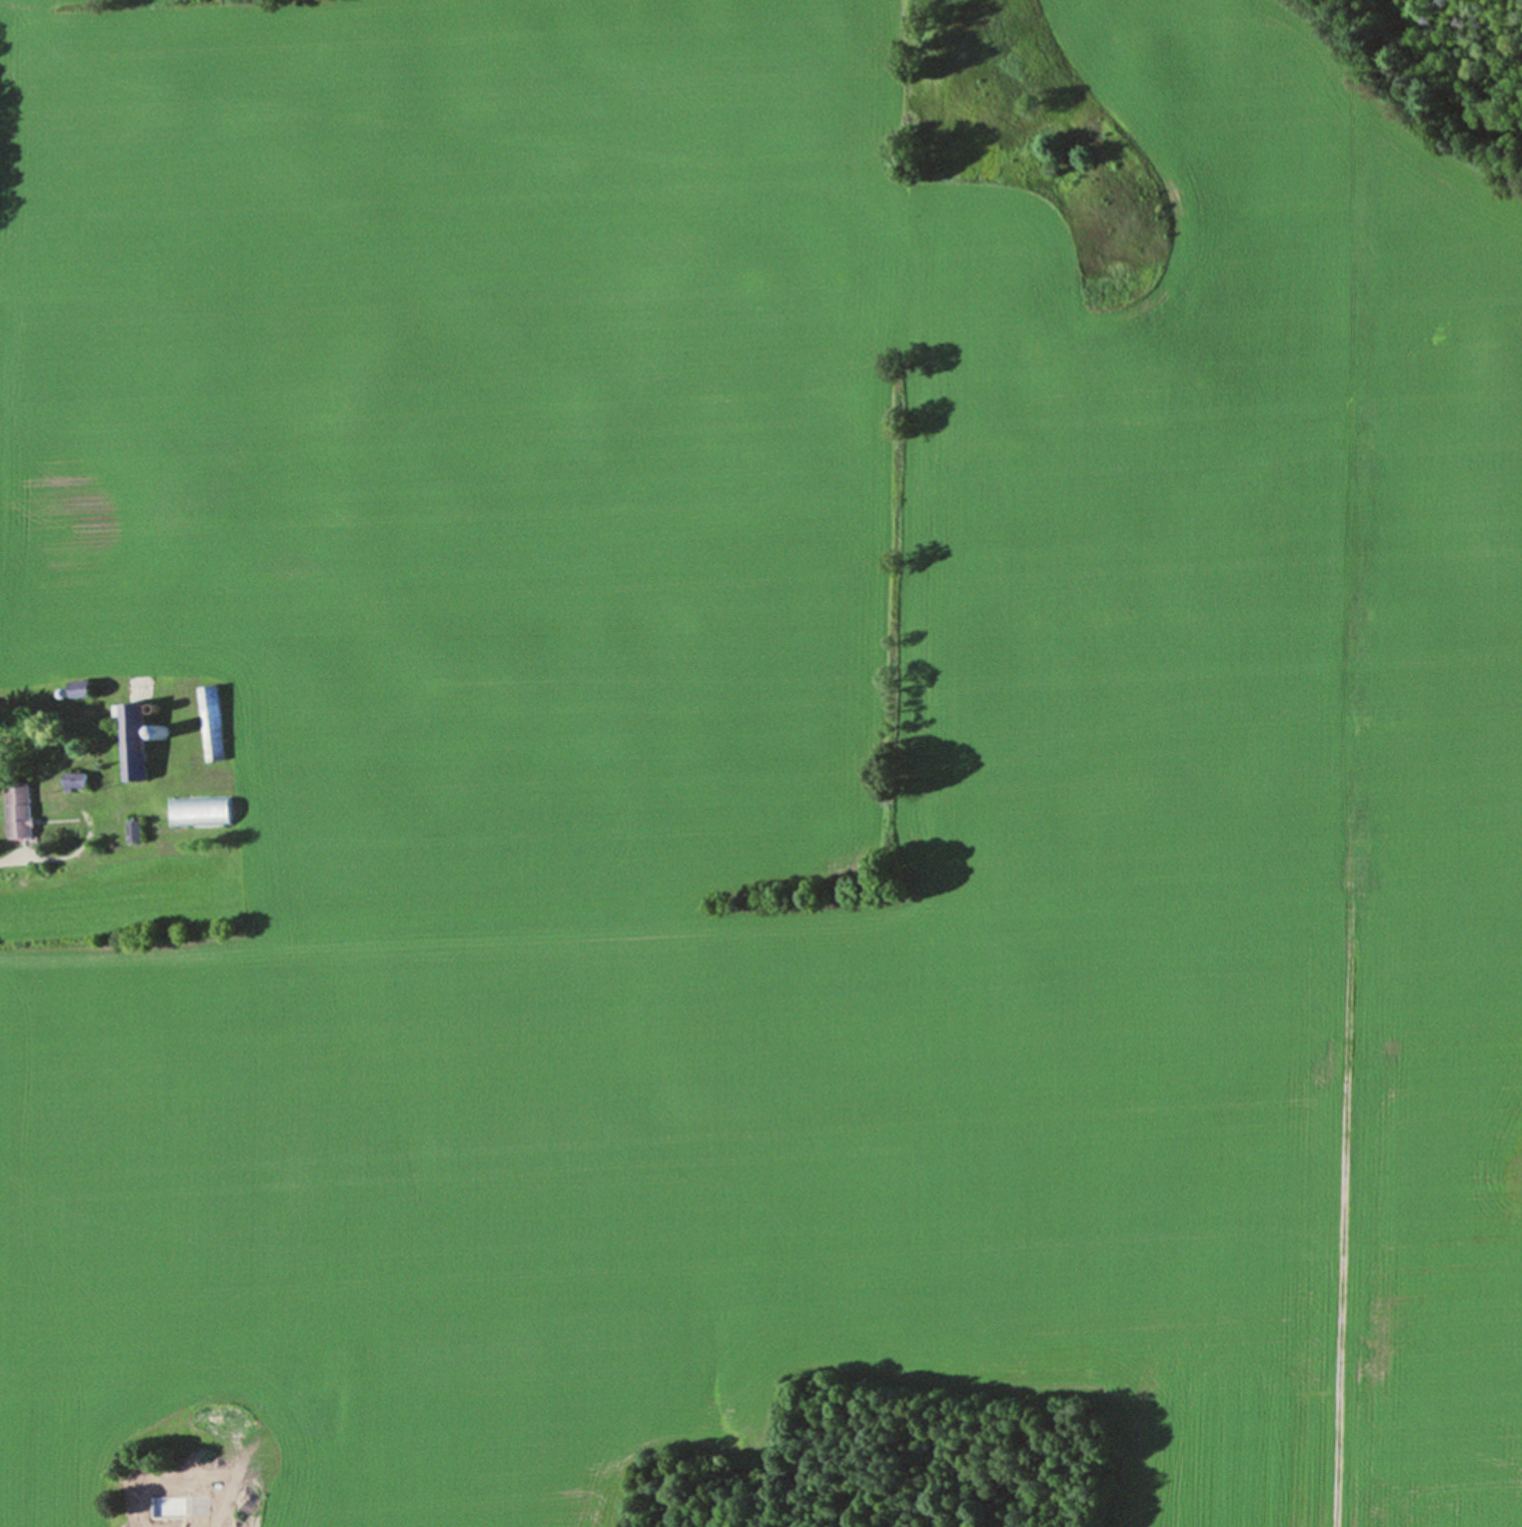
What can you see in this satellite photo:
building: (212, 705)
building: (135, 740)
building: (24, 810)
building: (206, 811)
road: (36, 859)
building: (306, 1381)
building: (223, 1412)
building: (193, 1497)

